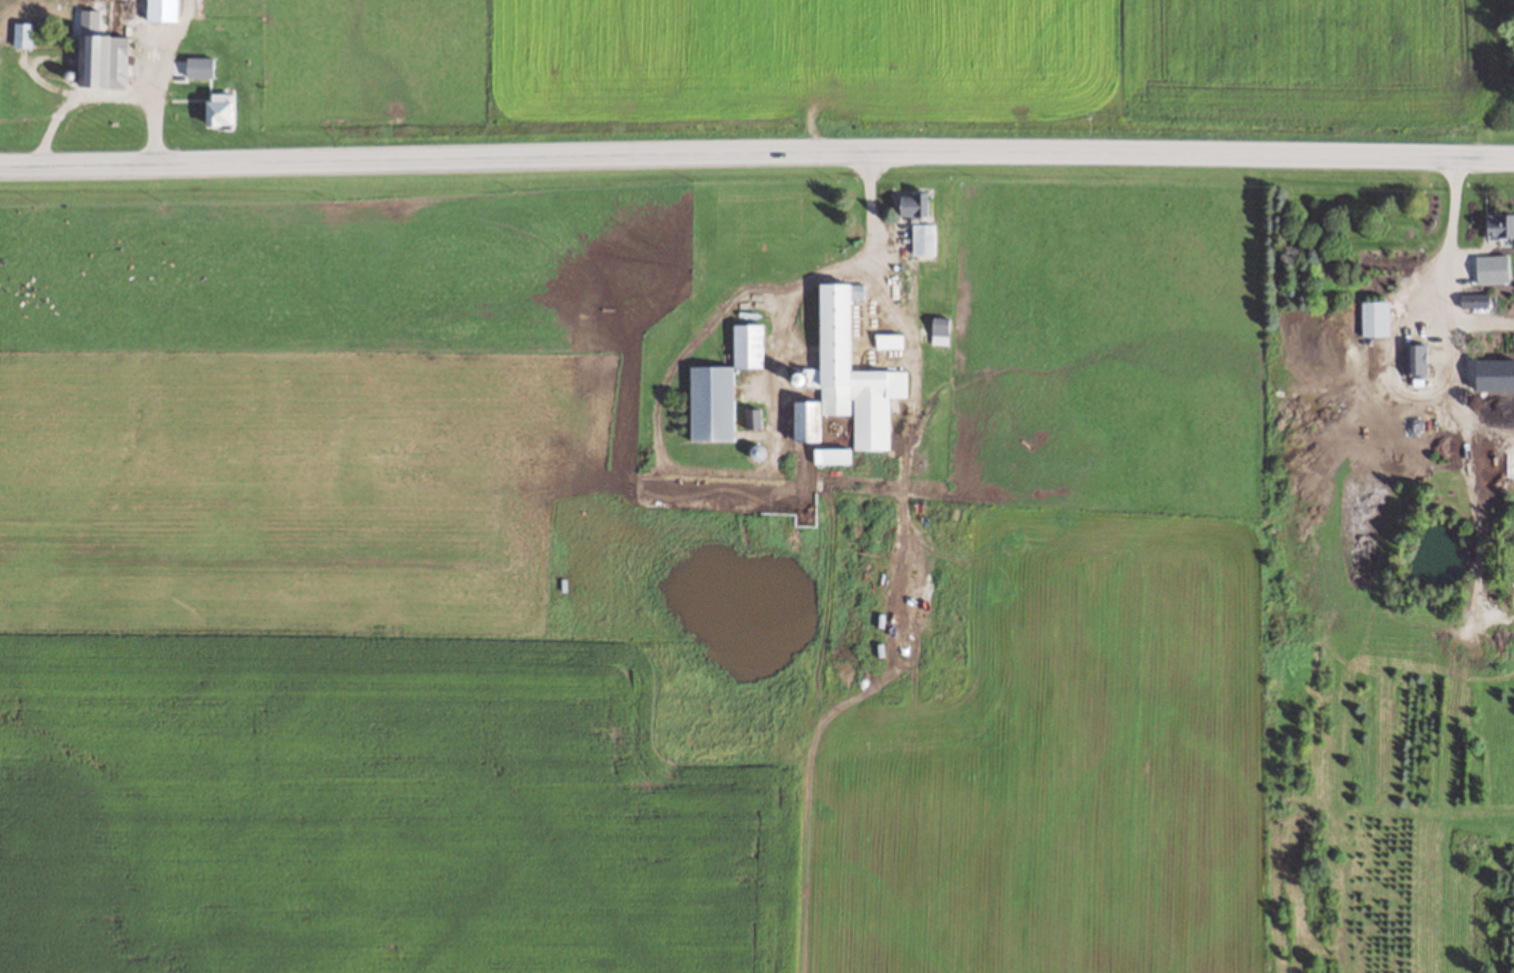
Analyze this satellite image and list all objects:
building: (161, 10)
building: (21, 34)
building: (107, 61)
crop: (858, 63)
building: (199, 67)
building: (220, 109)
road: (756, 152)
building: (914, 205)
building: (1500, 227)
building: (922, 239)
building: (1488, 264)
road: (838, 266)
building: (1475, 301)
building: (1374, 318)
building: (939, 329)
building: (888, 340)
building: (1418, 359)
building: (846, 378)
building: (721, 386)
building: (752, 417)
building: (830, 454)
building: (867, 547)
crop: (681, 620)

